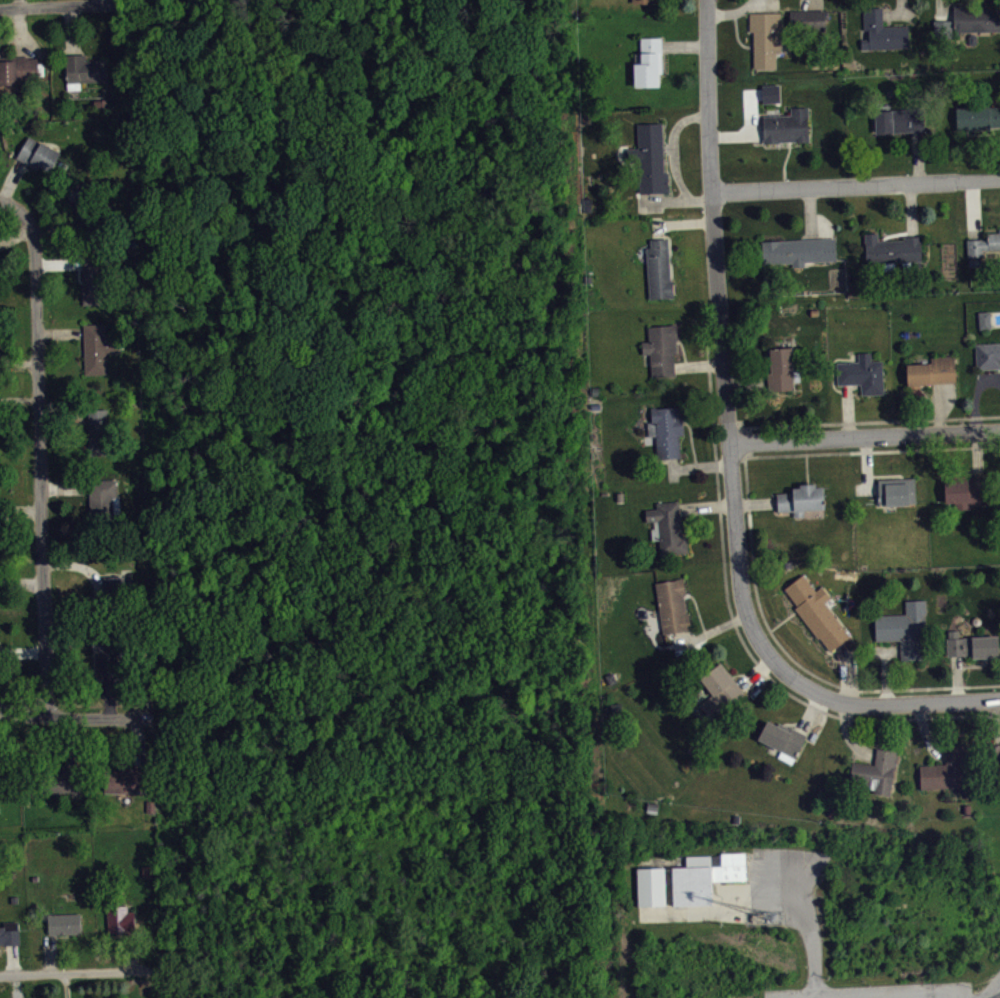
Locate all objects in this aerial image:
building: (644, 1)
road: (56, 5)
building: (808, 17)
building: (975, 17)
building: (882, 31)
building: (765, 37)
building: (647, 62)
building: (83, 70)
building: (21, 73)
building: (773, 98)
building: (977, 117)
building: (899, 120)
building: (786, 126)
building: (38, 154)
building: (649, 158)
road: (855, 183)
building: (81, 202)
building: (983, 243)
road: (272, 248)
building: (892, 249)
building: (798, 250)
building: (658, 269)
building: (93, 275)
building: (984, 319)
road: (722, 346)
building: (97, 348)
building: (660, 348)
building: (987, 355)
building: (780, 369)
building: (930, 372)
building: (861, 373)
road: (864, 421)
building: (665, 430)
building: (98, 431)
road: (865, 436)
road: (39, 449)
road: (737, 457)
building: (896, 491)
building: (965, 491)
building: (801, 499)
building: (102, 500)
building: (1, 509)
building: (667, 526)
road: (751, 543)
building: (110, 593)
building: (672, 606)
building: (816, 611)
road: (735, 627)
building: (903, 628)
road: (285, 632)
building: (972, 645)
building: (106, 653)
building: (0, 655)
building: (718, 690)
road: (893, 704)
road: (549, 710)
road: (73, 716)
road: (165, 719)
building: (782, 739)
building: (994, 751)
road: (216, 752)
building: (1, 757)
building: (998, 759)
building: (944, 768)
road: (535, 769)
building: (875, 772)
building: (126, 780)
building: (67, 781)
road: (184, 871)
building: (704, 876)
building: (651, 886)
building: (120, 919)
building: (63, 923)
building: (9, 936)
road: (814, 945)
road: (82, 976)
road: (173, 979)
parking lot: (899, 990)
road: (992, 990)
road: (228, 993)

